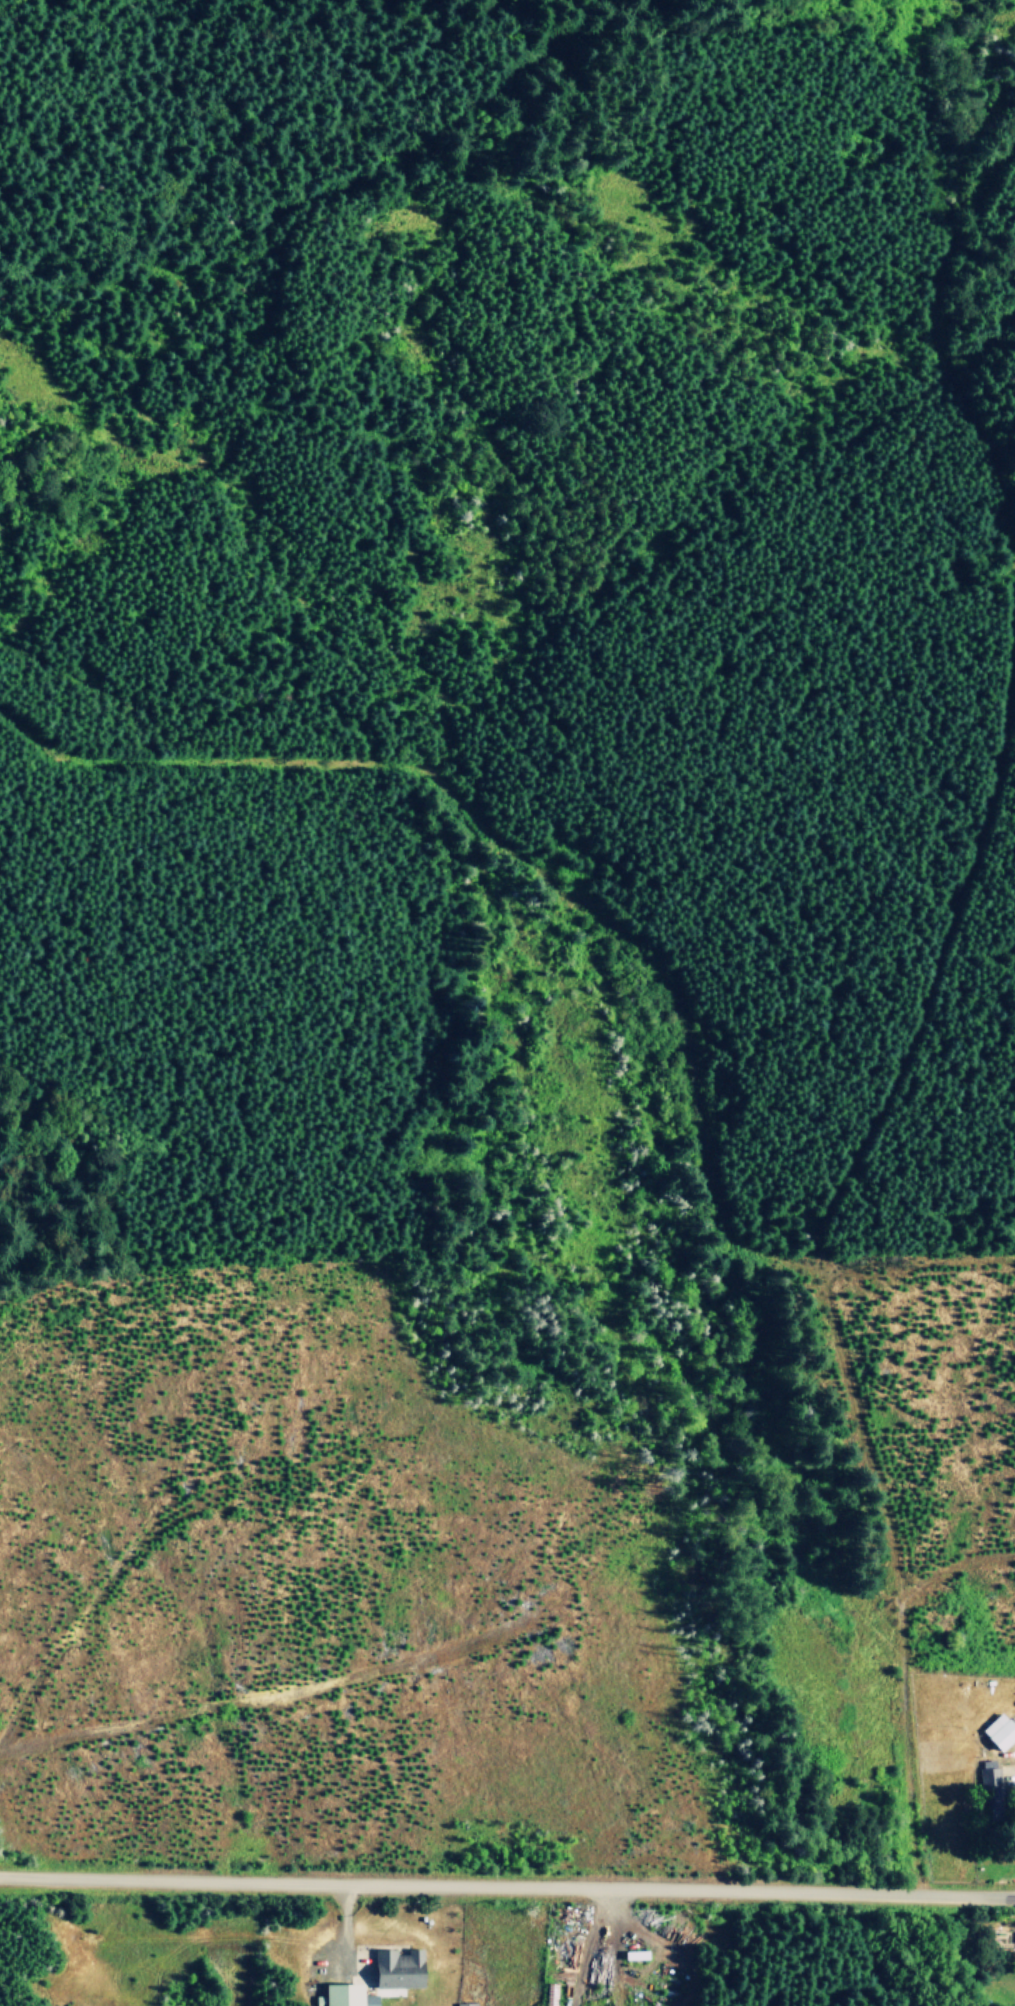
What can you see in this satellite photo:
building: (999, 1731)
building: (993, 1791)
road: (507, 1884)
building: (398, 1968)
building: (345, 1996)

